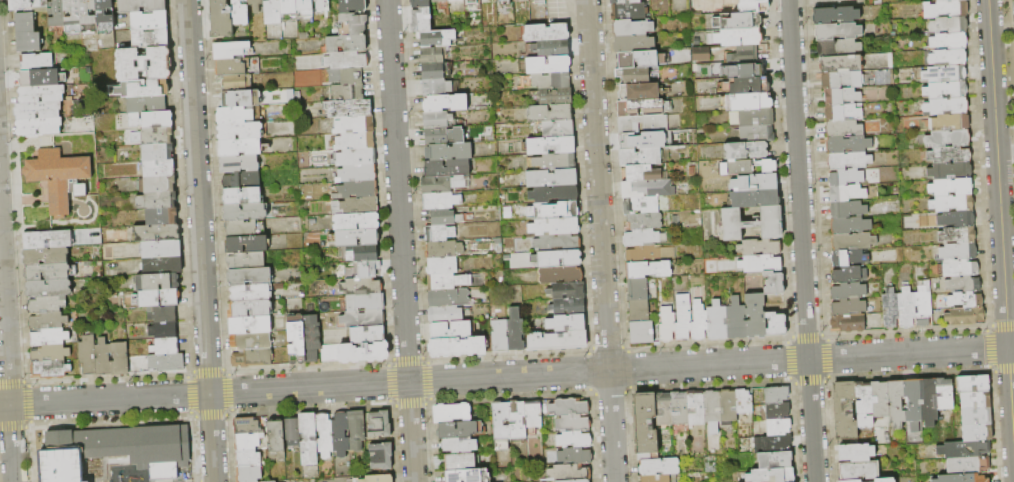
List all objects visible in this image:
building: (454, 0)
building: (520, 0)
building: (944, 0)
building: (440, 1)
building: (472, 1)
building: (505, 2)
building: (540, 2)
building: (624, 2)
building: (420, 4)
building: (29, 5)
building: (256, 5)
building: (142, 6)
building: (319, 6)
road: (577, 6)
building: (754, 6)
building: (352, 7)
building: (305, 9)
building: (944, 9)
building: (289, 11)
parking lot: (557, 11)
building: (241, 12)
building: (273, 12)
building: (628, 12)
building: (57, 14)
building: (834, 15)
building: (81, 17)
building: (104, 17)
building: (222, 19)
building: (422, 20)
building: (149, 21)
building: (738, 21)
building: (25, 23)
building: (352, 25)
building: (948, 25)
building: (632, 28)
building: (836, 31)
building: (547, 33)
building: (739, 37)
building: (150, 38)
building: (437, 38)
building: (948, 41)
building: (29, 42)
building: (632, 43)
building: (346, 44)
building: (837, 47)
building: (551, 48)
building: (230, 50)
building: (432, 54)
building: (745, 54)
building: (947, 58)
building: (641, 59)
building: (347, 60)
building: (37, 62)
building: (839, 63)
building: (144, 64)
building: (549, 65)
building: (231, 67)
building: (753, 69)
building: (434, 71)
building: (943, 74)
building: (634, 75)
building: (308, 76)
building: (347, 76)
building: (43, 78)
building: (837, 80)
building: (552, 81)
building: (236, 82)
building: (746, 86)
building: (143, 88)
building: (434, 88)
building: (944, 90)
building: (348, 92)
building: (639, 92)
building: (41, 94)
building: (840, 96)
building: (556, 97)
building: (241, 99)
building: (749, 102)
building: (446, 103)
building: (146, 105)
building: (945, 106)
building: (349, 108)
building: (643, 108)
building: (37, 110)
building: (841, 112)
building: (551, 113)
building: (238, 115)
building: (753, 118)
building: (151, 120)
building: (439, 120)
building: (949, 122)
building: (644, 124)
building: (354, 125)
building: (38, 127)
building: (842, 128)
building: (558, 129)
building: (240, 131)
building: (757, 134)
building: (157, 136)
building: (443, 136)
building: (947, 139)
building: (355, 141)
building: (637, 141)
building: (847, 144)
road: (25, 146)
building: (551, 146)
building: (241, 148)
road: (1005, 149)
building: (746, 151)
building: (158, 152)
building: (449, 152)
building: (948, 155)
building: (356, 157)
building: (640, 157)
building: (847, 160)
building: (555, 162)
building: (239, 164)
building: (751, 167)
building: (159, 168)
building: (446, 168)
building: (949, 171)
building: (358, 173)
road: (997, 173)
building: (642, 174)
building: (845, 177)
building: (60, 178)
building: (552, 179)
road: (797, 179)
building: (242, 180)
building: (755, 183)
building: (160, 184)
building: (442, 184)
building: (950, 187)
building: (648, 189)
building: (357, 190)
building: (845, 193)
building: (554, 194)
building: (242, 195)
road: (88, 197)
building: (755, 199)
road: (18, 201)
building: (157, 201)
building: (441, 201)
building: (951, 203)
road: (94, 204)
building: (641, 205)
building: (359, 206)
building: (846, 209)
building: (563, 211)
building: (245, 212)
building: (161, 217)
building: (445, 217)
building: (955, 219)
road: (69, 220)
building: (644, 221)
flagpole: (35, 222)
building: (357, 222)
building: (753, 223)
building: (849, 225)
road: (34, 226)
building: (555, 227)
building: (244, 228)
building: (157, 233)
building: (439, 233)
building: (956, 235)
building: (355, 238)
building: (644, 238)
building: (48, 239)
road: (601, 240)
road: (200, 241)
road: (401, 241)
building: (852, 241)
building: (557, 243)
building: (247, 244)
building: (759, 247)
building: (162, 249)
building: (444, 250)
building: (957, 251)
building: (649, 253)
building: (363, 254)
building: (45, 256)
building: (848, 258)
building: (558, 259)
building: (247, 261)
building: (760, 264)
building: (162, 266)
building: (442, 266)
building: (959, 268)
building: (366, 269)
building: (648, 270)
building: (49, 272)
building: (844, 274)
building: (561, 275)
building: (250, 277)
building: (447, 281)
building: (159, 282)
building: (774, 283)
building: (962, 284)
building: (362, 287)
building: (49, 288)
building: (638, 290)
building: (568, 291)
building: (848, 291)
building: (250, 292)
building: (160, 298)
building: (449, 298)
building: (964, 300)
building: (370, 301)
building: (47, 304)
building: (568, 307)
building: (847, 307)
building: (921, 307)
building: (905, 308)
building: (250, 309)
building: (889, 309)
building: (639, 311)
building: (163, 315)
building: (445, 315)
building: (756, 316)
building: (964, 316)
building: (364, 319)
building: (736, 320)
building: (48, 321)
building: (700, 321)
building: (717, 321)
building: (848, 323)
building: (567, 324)
building: (684, 324)
building: (250, 325)
building: (667, 325)
building: (776, 325)
building: (164, 330)
building: (446, 331)
building: (642, 333)
building: (368, 335)
building: (514, 336)
building: (499, 337)
building: (49, 338)
building: (312, 338)
building: (297, 340)
building: (251, 341)
building: (557, 341)
building: (166, 347)
building: (458, 347)
building: (50, 353)
building: (330, 353)
building: (364, 353)
road: (908, 353)
building: (88, 356)
building: (104, 358)
building: (253, 358)
building: (121, 359)
road: (6, 363)
building: (166, 363)
building: (51, 369)
road: (404, 382)
building: (973, 384)
building: (944, 394)
building: (776, 395)
building: (880, 399)
road: (1011, 399)
building: (976, 400)
building: (744, 402)
building: (928, 402)
building: (896, 404)
building: (913, 404)
building: (864, 406)
building: (571, 407)
building: (680, 408)
building: (696, 408)
building: (727, 408)
building: (664, 409)
building: (778, 411)
building: (844, 411)
building: (712, 412)
building: (452, 414)
building: (534, 414)
building: (976, 416)
building: (517, 420)
road: (811, 420)
building: (574, 423)
building: (645, 423)
building: (380, 424)
building: (501, 425)
building: (247, 426)
building: (778, 427)
building: (357, 429)
building: (459, 430)
building: (292, 432)
building: (978, 433)
building: (325, 434)
building: (341, 434)
building: (309, 439)
building: (277, 440)
building: (574, 440)
building: (247, 442)
building: (779, 443)
building: (459, 446)
building: (964, 450)
building: (115, 451)
building: (856, 453)
building: (381, 456)
building: (575, 456)
building: (248, 459)
building: (774, 460)
building: (460, 462)
building: (968, 466)
building: (659, 467)
building: (569, 472)
building: (859, 472)
building: (249, 474)
building: (771, 475)
building: (467, 476)
building: (656, 478)
building: (962, 478)
building: (376, 479)
building: (873, 480)
building: (574, 481)

